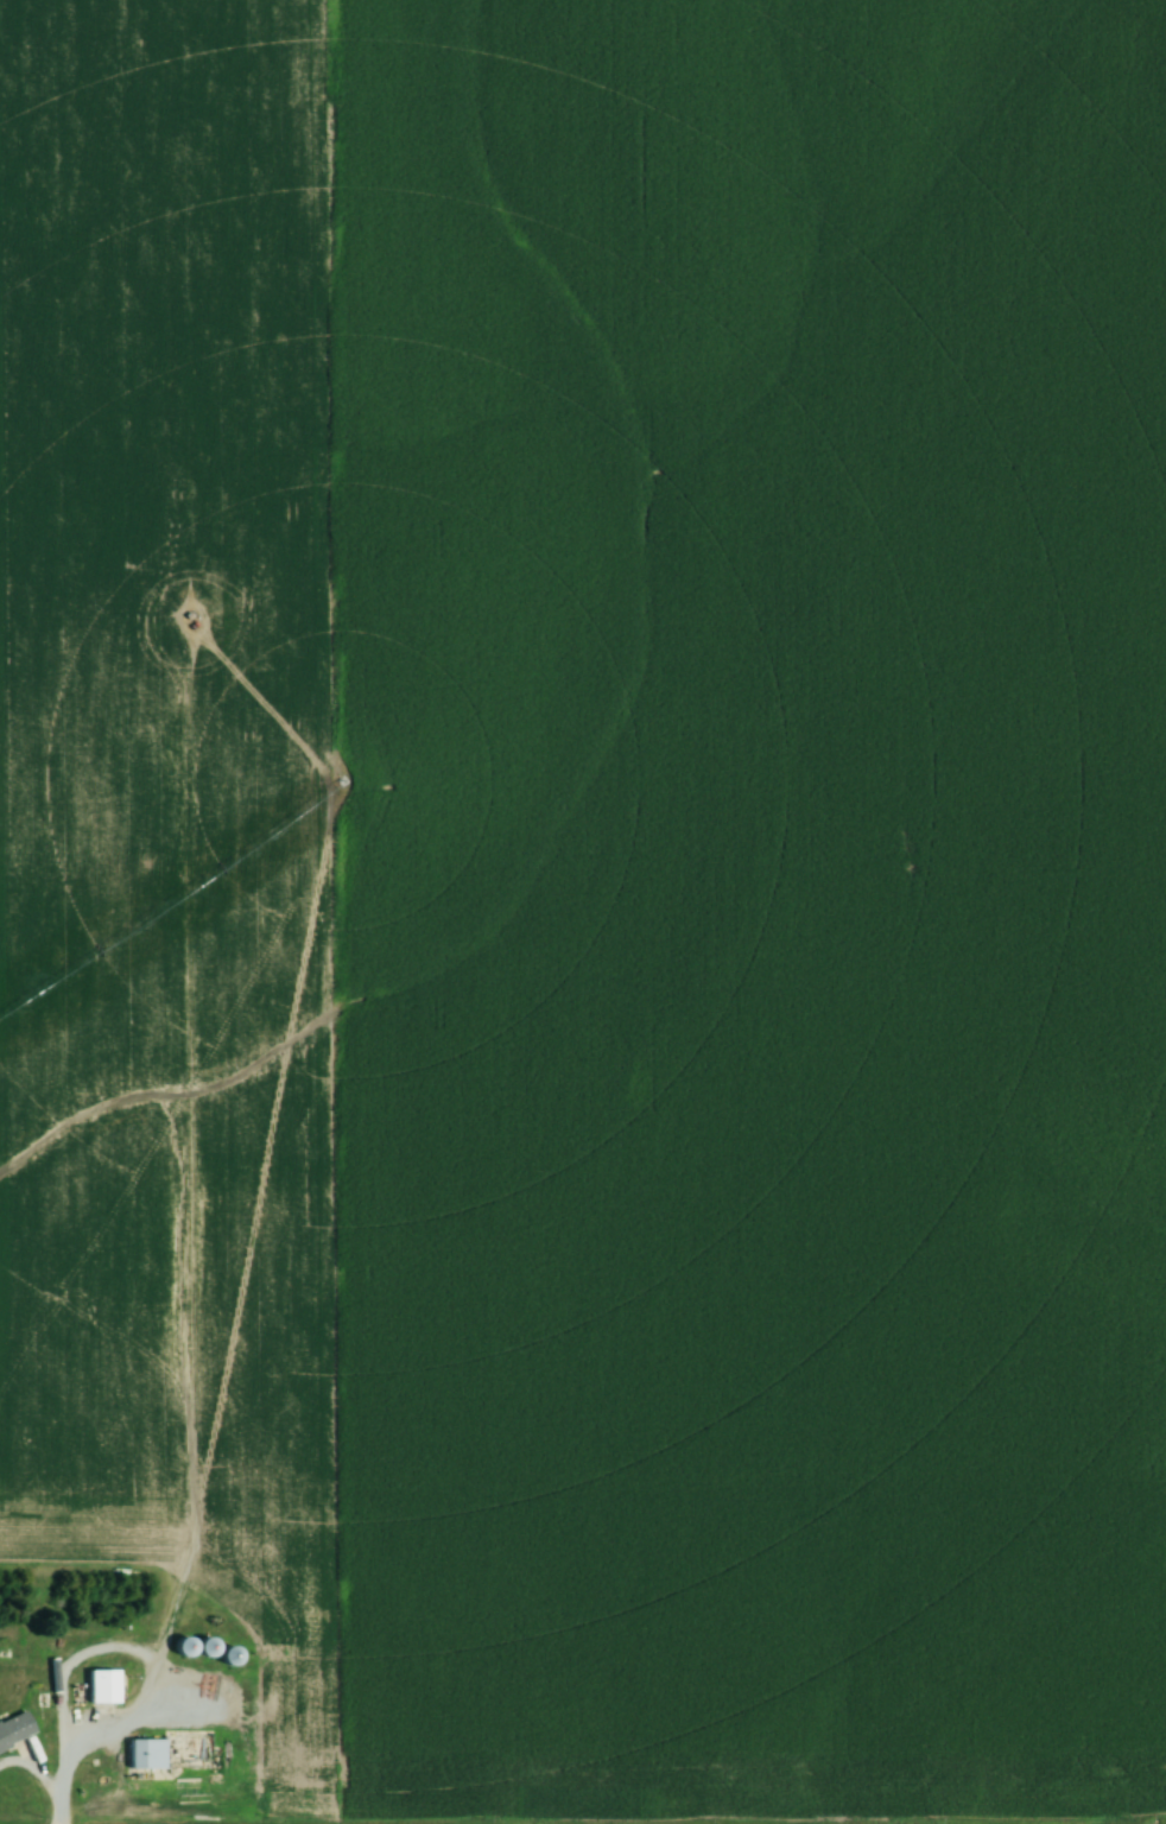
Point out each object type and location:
building: (65, 1642)
building: (185, 1648)
building: (207, 1648)
building: (229, 1658)
building: (102, 1689)
building: (14, 1731)
building: (254, 1737)
building: (147, 1755)
road: (37, 1782)

